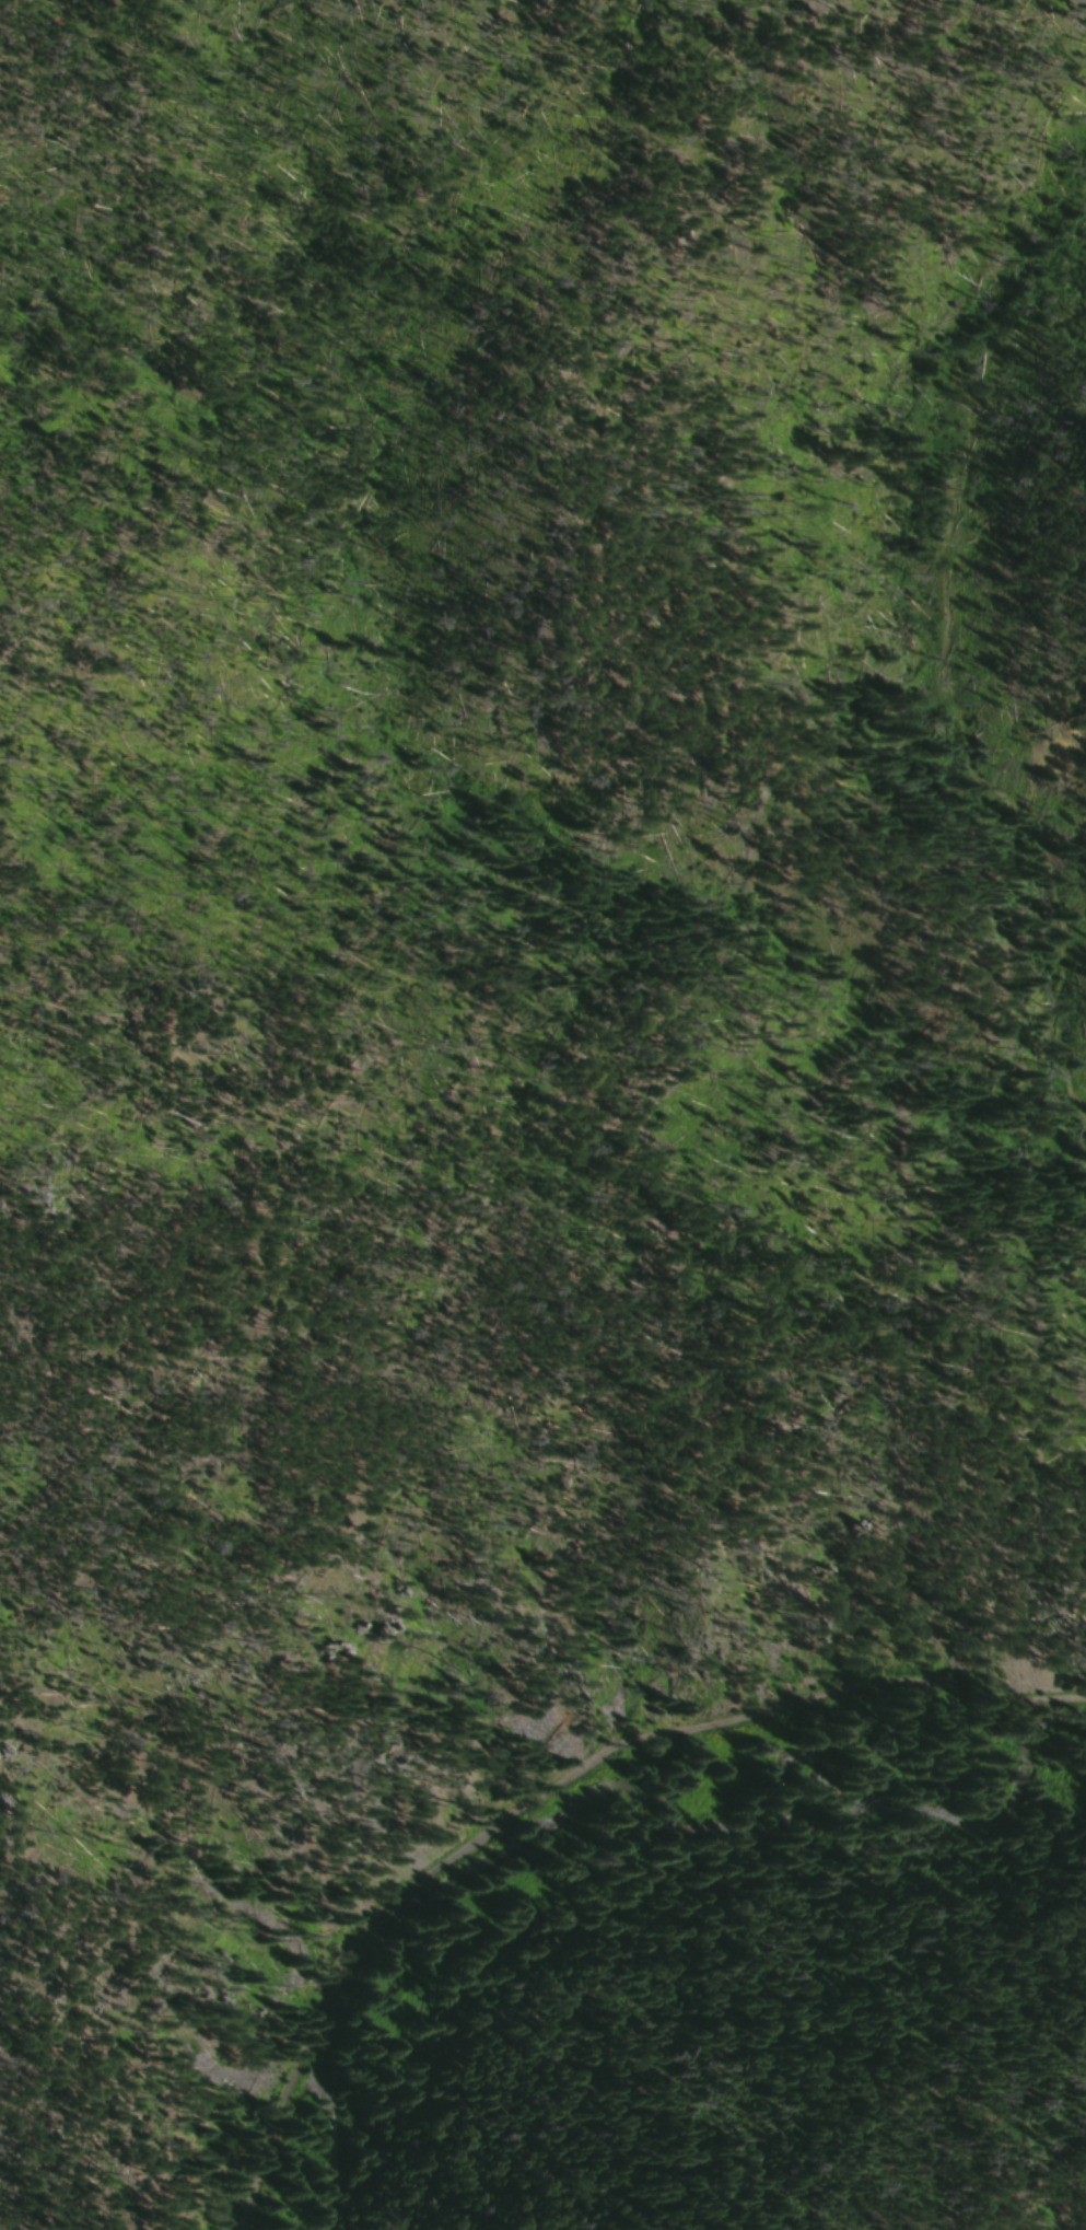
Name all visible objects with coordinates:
road: (548, 1788)
river: (640, 1801)

